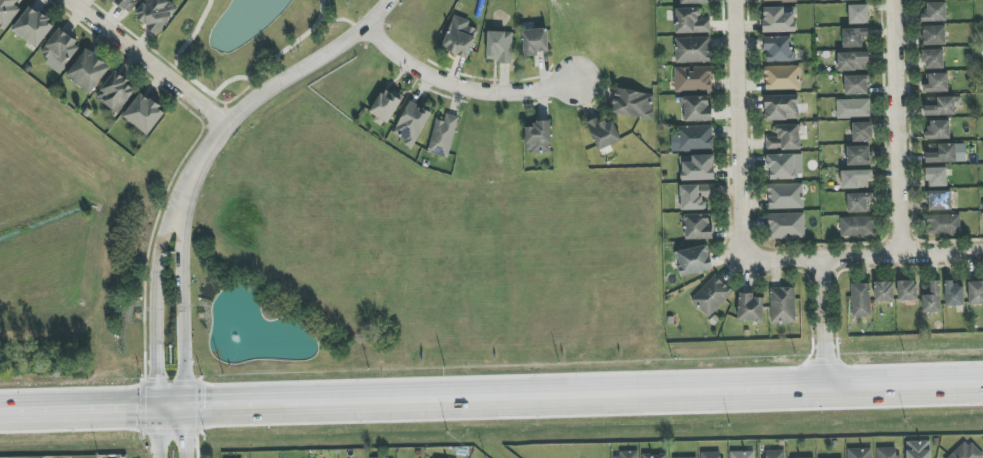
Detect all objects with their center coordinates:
building: (848, 0)
building: (693, 1)
building: (778, 1)
building: (123, 3)
building: (7, 12)
building: (934, 12)
building: (155, 14)
building: (858, 14)
building: (779, 19)
road: (342, 20)
building: (690, 21)
building: (33, 27)
building: (934, 35)
building: (459, 37)
building: (853, 37)
building: (535, 41)
building: (500, 46)
building: (778, 49)
building: (59, 50)
building: (692, 50)
building: (933, 59)
road: (142, 61)
building: (852, 61)
building: (88, 71)
building: (782, 77)
building: (693, 79)
building: (936, 82)
road: (222, 83)
building: (856, 85)
road: (459, 87)
road: (268, 90)
building: (116, 92)
road: (233, 97)
building: (633, 103)
building: (942, 105)
building: (385, 106)
building: (781, 107)
building: (696, 108)
building: (853, 108)
road: (222, 113)
building: (144, 114)
building: (412, 123)
road: (736, 127)
road: (893, 128)
building: (938, 129)
building: (862, 132)
building: (603, 133)
building: (443, 136)
building: (538, 137)
building: (693, 138)
building: (784, 138)
building: (945, 153)
building: (858, 155)
building: (785, 166)
building: (697, 167)
building: (936, 177)
building: (856, 179)
building: (695, 196)
building: (785, 196)
building: (938, 200)
building: (859, 202)
building: (943, 224)
building: (697, 226)
building: (786, 226)
building: (857, 226)
road: (864, 257)
building: (694, 260)
building: (907, 290)
building: (884, 291)
building: (975, 293)
building: (954, 294)
building: (712, 296)
building: (931, 297)
road: (154, 298)
road: (181, 299)
building: (860, 300)
building: (783, 305)
building: (750, 308)
road: (821, 323)
fountain: (231, 333)
road: (880, 384)
road: (389, 396)
road: (155, 429)
road: (183, 429)
building: (918, 449)
building: (966, 451)
building: (887, 452)
building: (859, 453)
building: (742, 454)
building: (773, 454)
building: (626, 455)
building: (655, 455)
building: (712, 455)
building: (688, 457)

